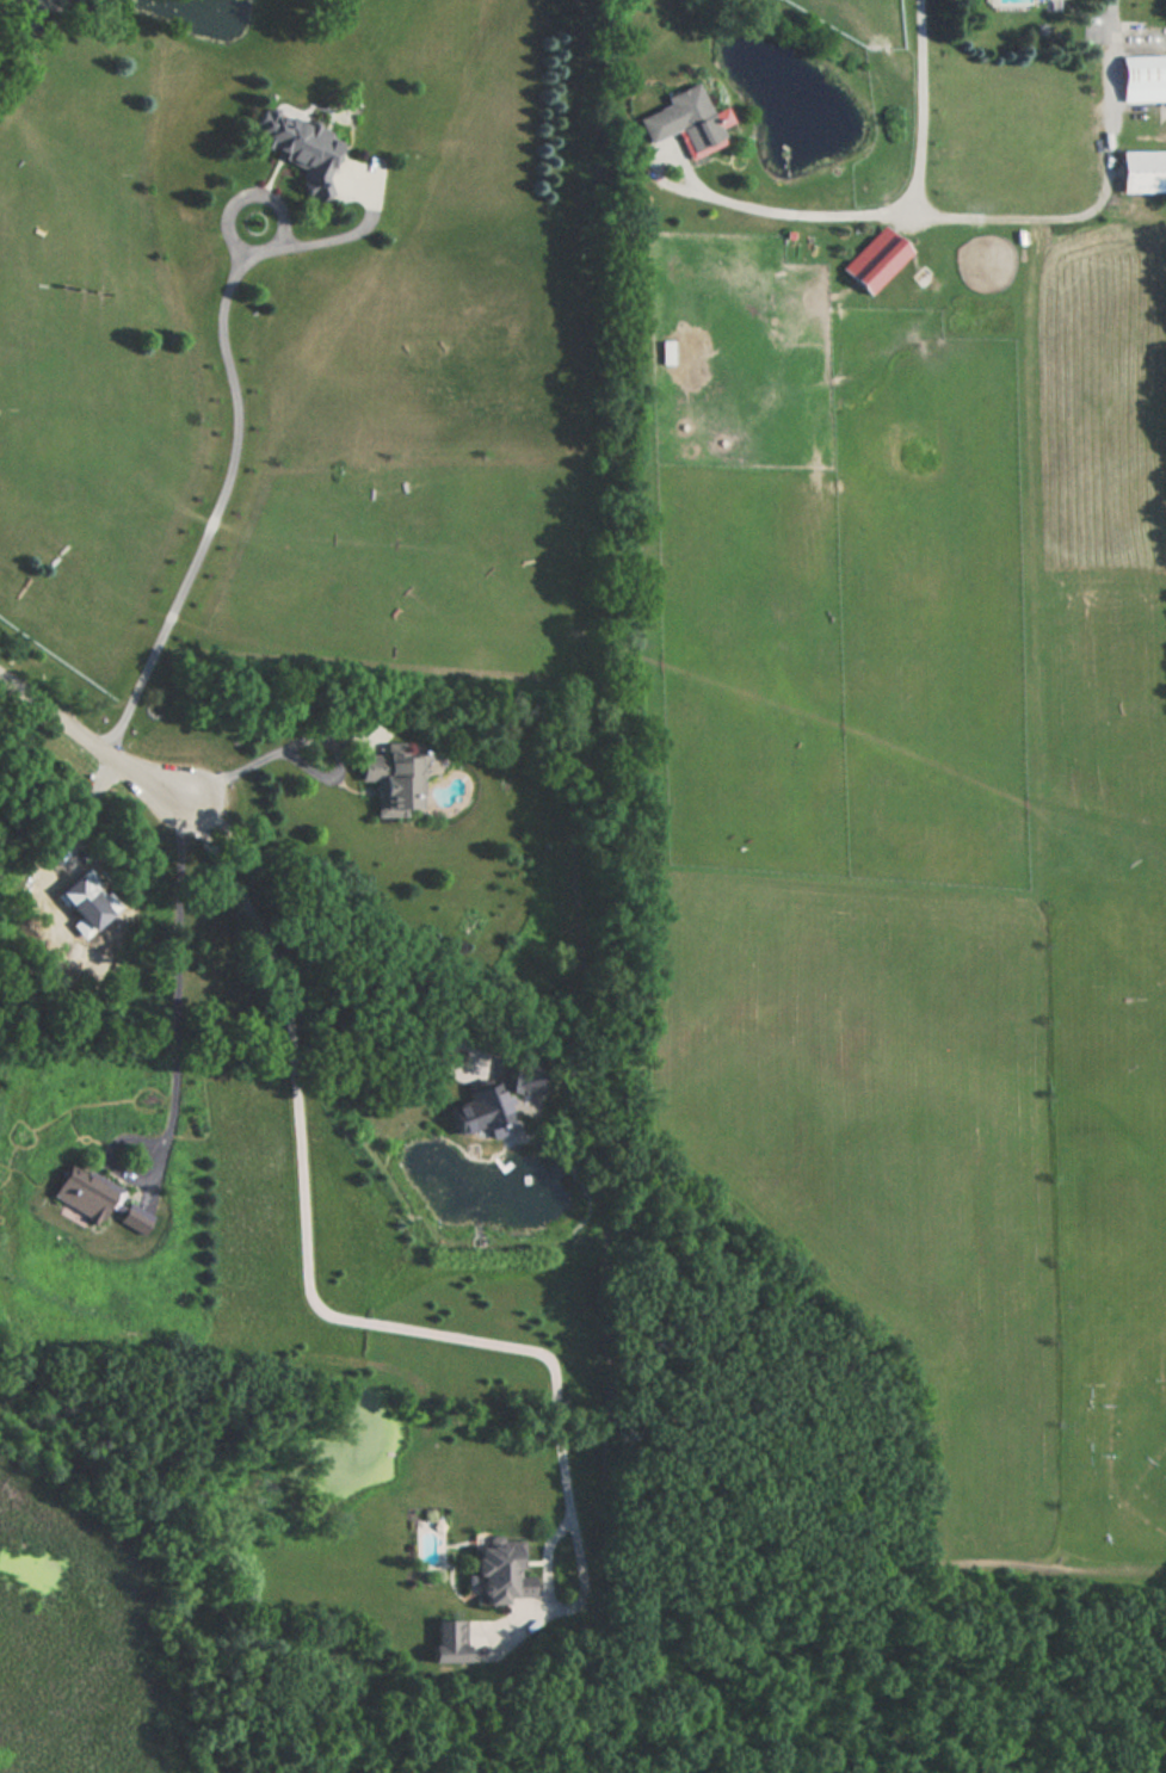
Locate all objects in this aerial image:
road: (918, 107)
building: (687, 121)
building: (297, 146)
building: (1142, 171)
road: (253, 193)
road: (998, 215)
road: (360, 224)
building: (874, 260)
road: (221, 505)
road: (306, 740)
road: (93, 742)
building: (390, 778)
road: (326, 929)
road: (178, 972)
building: (487, 1104)
building: (94, 1200)
road: (304, 1243)
building: (499, 1574)
building: (449, 1641)

